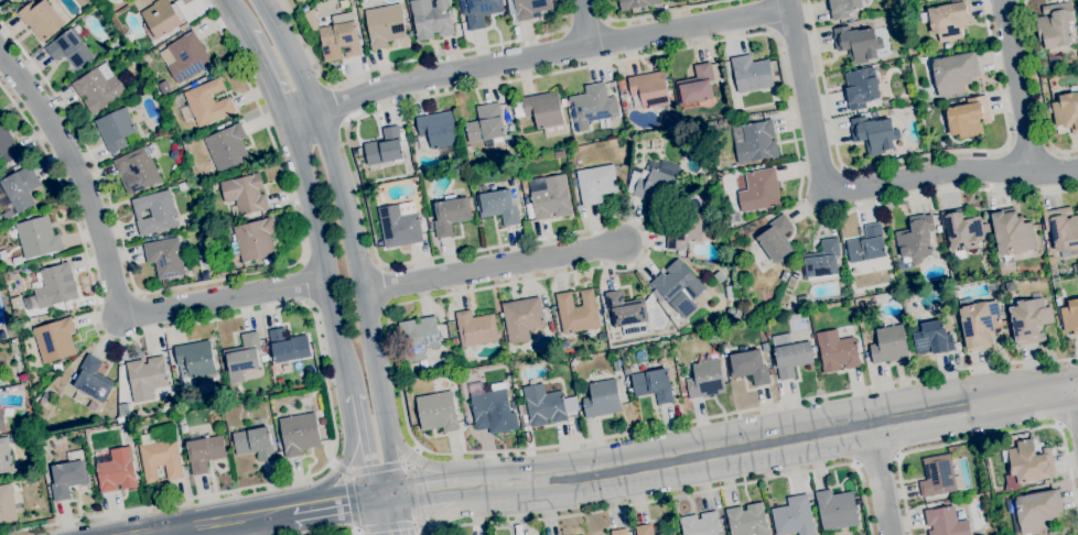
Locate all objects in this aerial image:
building: (17, 0)
building: (12, 1)
building: (636, 3)
building: (1077, 3)
building: (509, 4)
building: (529, 8)
building: (842, 8)
building: (481, 11)
road: (657, 13)
road: (769, 15)
road: (235, 17)
building: (161, 18)
building: (430, 18)
building: (41, 19)
building: (948, 19)
road: (583, 23)
road: (585, 23)
building: (1055, 24)
building: (385, 25)
building: (339, 36)
building: (856, 43)
building: (946, 45)
building: (69, 47)
road: (536, 55)
building: (186, 57)
building: (121, 61)
road: (412, 61)
building: (774, 64)
building: (955, 73)
building: (751, 74)
building: (208, 77)
road: (268, 78)
building: (699, 83)
building: (193, 85)
road: (823, 87)
building: (861, 87)
road: (1017, 87)
building: (98, 88)
road: (1037, 88)
building: (648, 90)
building: (206, 103)
building: (590, 103)
road: (336, 105)
building: (515, 108)
building: (1067, 110)
building: (545, 112)
building: (506, 116)
building: (968, 117)
building: (730, 120)
building: (485, 123)
building: (712, 124)
building: (509, 128)
building: (115, 129)
building: (438, 129)
building: (409, 132)
building: (874, 133)
building: (412, 139)
building: (756, 142)
building: (227, 146)
building: (529, 146)
building: (384, 148)
building: (8, 149)
road: (999, 149)
road: (1028, 150)
building: (559, 154)
building: (407, 160)
building: (138, 167)
building: (707, 177)
road: (82, 181)
building: (654, 182)
building: (596, 183)
building: (181, 186)
building: (20, 187)
building: (757, 189)
road: (852, 192)
building: (245, 193)
building: (548, 197)
building: (496, 204)
building: (154, 212)
building: (194, 214)
building: (450, 214)
building: (7, 215)
building: (398, 227)
building: (938, 228)
building: (962, 229)
building: (682, 230)
building: (1061, 230)
building: (1012, 232)
building: (37, 238)
building: (915, 238)
building: (252, 239)
road: (543, 239)
road: (352, 241)
building: (775, 242)
building: (867, 245)
building: (165, 258)
road: (323, 259)
building: (1050, 260)
building: (19, 261)
building: (267, 261)
building: (820, 261)
building: (1075, 267)
road: (493, 269)
building: (788, 272)
building: (719, 276)
road: (209, 280)
road: (308, 281)
building: (55, 285)
building: (1010, 286)
building: (679, 287)
road: (227, 297)
building: (15, 303)
building: (29, 304)
building: (863, 305)
building: (764, 306)
road: (313, 307)
building: (576, 312)
building: (627, 312)
building: (730, 312)
building: (1070, 316)
building: (522, 318)
building: (1030, 320)
building: (978, 323)
building: (475, 328)
building: (601, 336)
building: (418, 338)
building: (453, 338)
building: (930, 338)
building: (54, 340)
building: (890, 343)
building: (288, 346)
building: (765, 347)
building: (263, 350)
building: (837, 351)
building: (790, 354)
building: (242, 358)
building: (263, 358)
building: (195, 359)
building: (573, 362)
building: (615, 364)
building: (172, 365)
building: (748, 367)
building: (56, 368)
building: (627, 370)
building: (772, 371)
building: (145, 378)
building: (93, 380)
building: (705, 380)
building: (653, 384)
building: (682, 387)
road: (1074, 387)
road: (1074, 391)
building: (602, 398)
building: (543, 405)
building: (488, 407)
road: (1074, 408)
building: (521, 410)
building: (7, 411)
building: (436, 412)
building: (322, 417)
building: (1, 422)
building: (126, 424)
road: (1066, 424)
building: (183, 428)
building: (299, 433)
road: (984, 437)
road: (777, 440)
building: (254, 444)
road: (364, 448)
building: (204, 451)
building: (160, 455)
building: (4, 458)
road: (875, 460)
building: (1028, 462)
road: (342, 463)
road: (421, 466)
road: (378, 468)
building: (117, 470)
building: (68, 476)
building: (937, 476)
road: (878, 479)
road: (410, 483)
road: (352, 490)
road: (436, 493)
road: (681, 494)
road: (338, 503)
building: (7, 504)
road: (452, 506)
building: (836, 510)
building: (1037, 510)
road: (391, 516)
building: (793, 517)
building: (747, 520)
road: (231, 522)
building: (945, 522)
building: (700, 524)
road: (398, 525)
building: (644, 529)
road: (346, 532)
building: (619, 532)
building: (667, 533)
road: (164, 534)
road: (171, 534)

